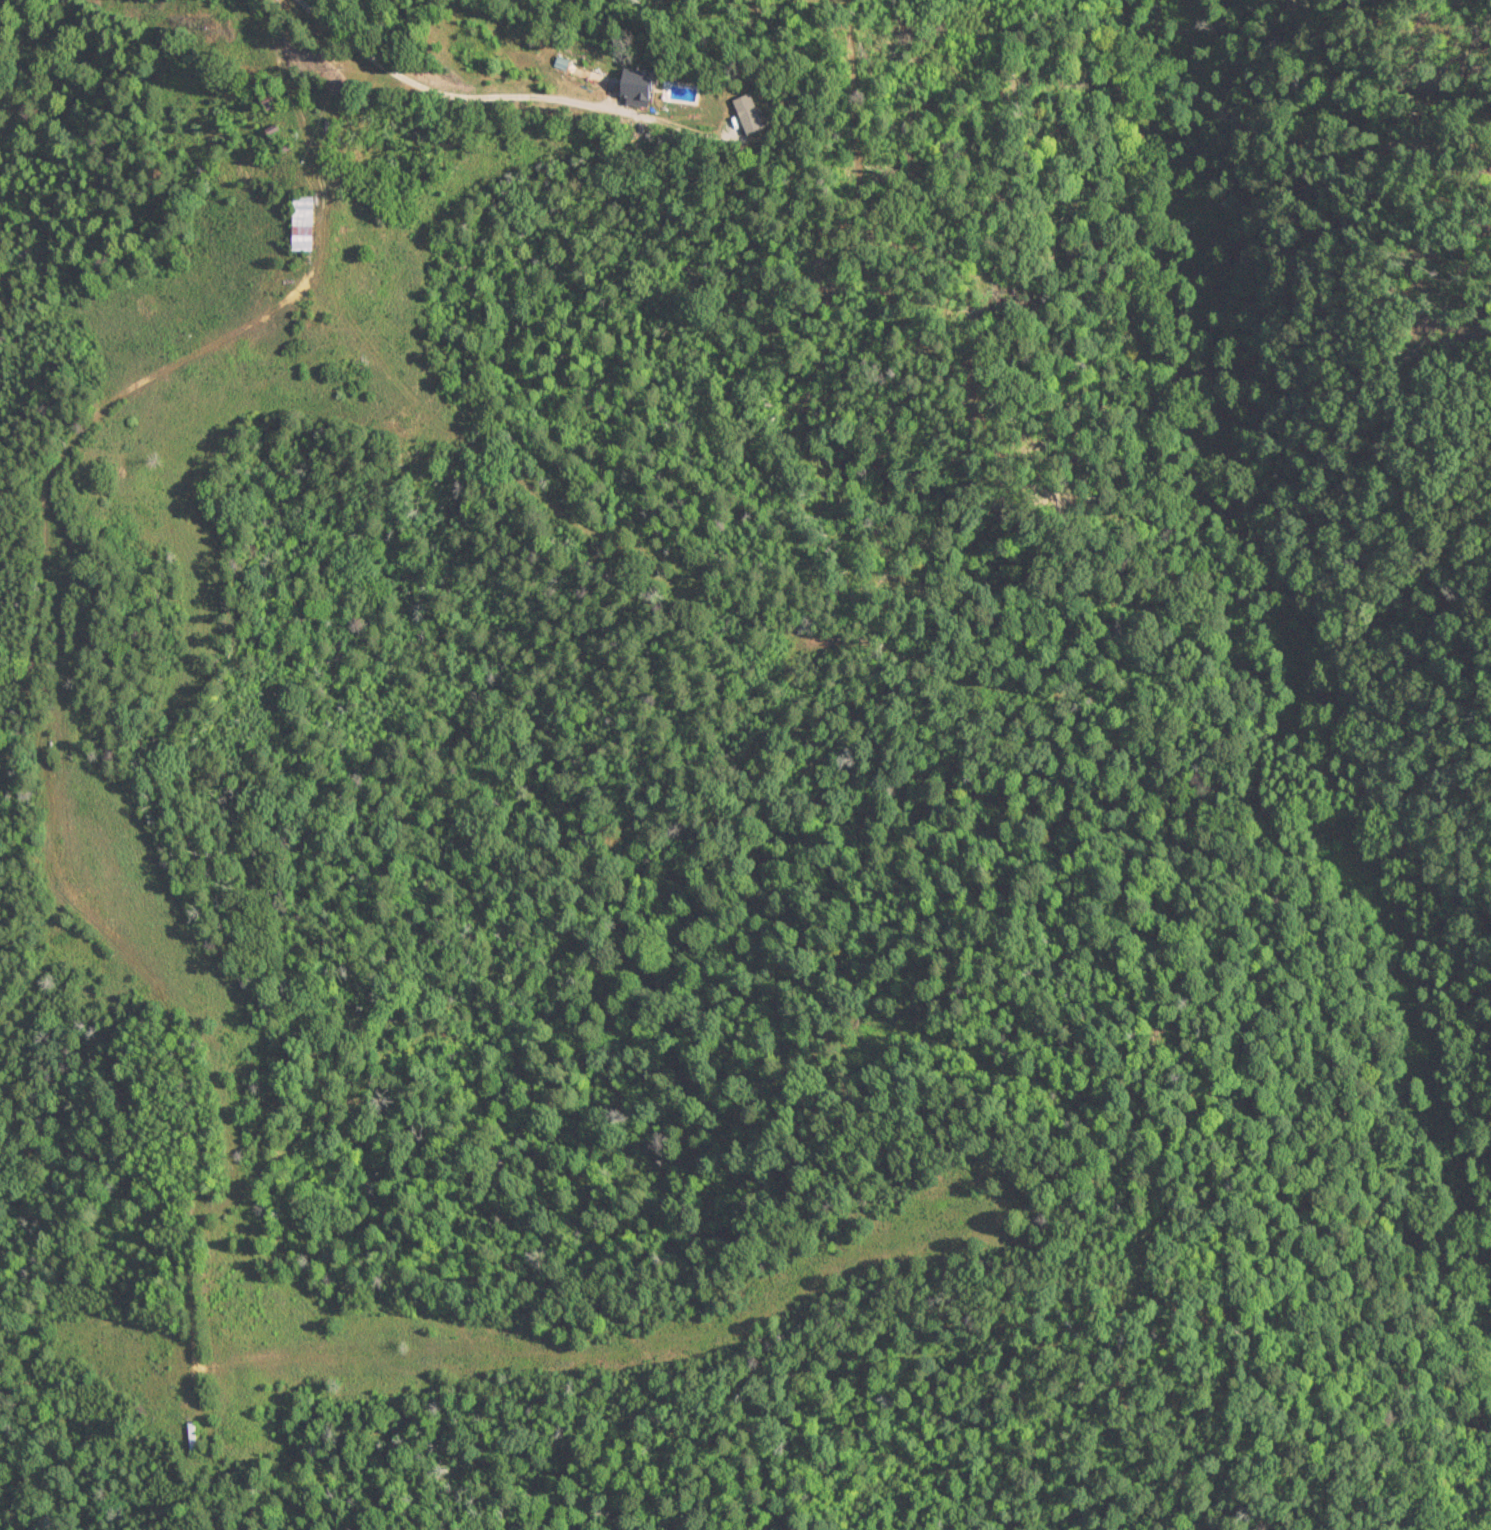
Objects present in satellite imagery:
building: (578, 68)
building: (300, 224)

